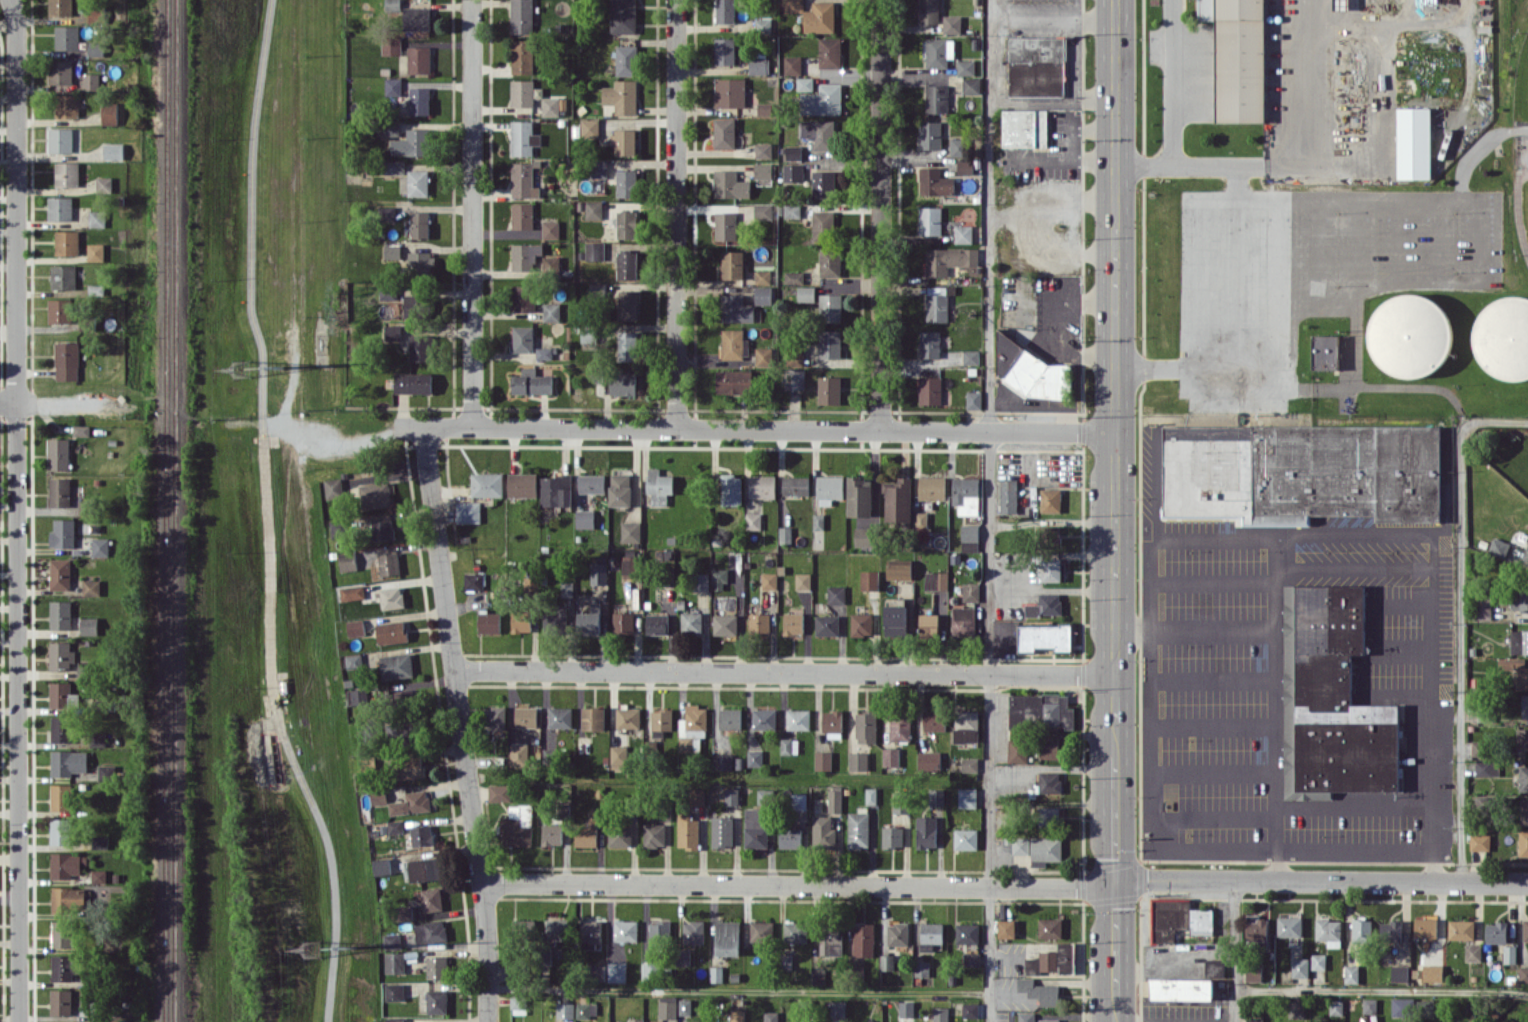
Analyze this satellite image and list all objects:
building: (1341, 3)
building: (393, 5)
building: (794, 5)
building: (59, 7)
building: (725, 11)
building: (929, 11)
building: (522, 16)
building: (623, 16)
building: (820, 17)
building: (417, 18)
road: (1053, 22)
building: (952, 23)
building: (66, 37)
building: (391, 45)
building: (95, 48)
building: (725, 51)
building: (939, 51)
building: (830, 52)
building: (522, 56)
building: (1238, 58)
building: (419, 59)
building: (627, 60)
building: (759, 65)
building: (792, 65)
building: (1036, 66)
building: (966, 67)
building: (59, 71)
building: (90, 81)
building: (805, 83)
park: (1521, 83)
road: (1174, 84)
building: (971, 85)
building: (393, 86)
building: (524, 92)
building: (730, 92)
building: (621, 96)
building: (937, 98)
building: (420, 100)
building: (823, 100)
road: (1296, 104)
building: (66, 106)
building: (550, 106)
building: (765, 108)
building: (108, 113)
building: (390, 127)
building: (590, 127)
building: (1025, 128)
park: (1512, 132)
building: (725, 133)
building: (819, 133)
building: (930, 135)
building: (523, 138)
building: (59, 139)
building: (625, 141)
building: (1414, 142)
building: (411, 143)
building: (958, 146)
building: (763, 150)
building: (113, 151)
building: (794, 152)
building: (394, 167)
building: (598, 168)
building: (763, 170)
building: (793, 172)
building: (66, 174)
building: (523, 180)
building: (414, 182)
building: (935, 182)
building: (103, 183)
building: (627, 183)
building: (730, 184)
building: (822, 184)
park: (1521, 204)
building: (59, 208)
building: (594, 209)
building: (763, 210)
building: (789, 210)
building: (387, 213)
road: (471, 213)
road: (675, 214)
road: (880, 214)
building: (522, 215)
building: (96, 218)
building: (930, 220)
building: (420, 224)
building: (627, 224)
building: (725, 225)
building: (824, 225)
building: (551, 229)
building: (963, 233)
building: (66, 242)
building: (594, 250)
building: (94, 251)
building: (392, 251)
building: (525, 255)
building: (949, 259)
building: (830, 261)
building: (421, 263)
building: (732, 264)
building: (627, 265)
road: (1236, 265)
parking lot: (1309, 274)
building: (62, 276)
building: (763, 276)
building: (794, 277)
park: (1351, 283)
building: (387, 291)
building: (806, 293)
building: (763, 294)
building: (522, 297)
building: (938, 302)
building: (627, 304)
building: (413, 305)
building: (830, 307)
building: (736, 308)
building: (59, 310)
building: (551, 312)
road: (1048, 327)
building: (392, 332)
building: (1410, 335)
building: (1503, 337)
building: (523, 338)
building: (830, 340)
building: (929, 343)
building: (734, 344)
building: (627, 345)
building: (419, 347)
building: (1325, 351)
building: (544, 352)
building: (763, 355)
building: (971, 357)
building: (65, 361)
power tower: (241, 366)
power tower: (278, 366)
building: (1031, 370)
building: (795, 379)
building: (734, 381)
building: (412, 382)
building: (531, 382)
building: (622, 384)
building: (829, 389)
building: (929, 390)
building: (973, 399)
road: (8, 400)
road: (60, 403)
road: (753, 428)
building: (80, 430)
building: (58, 454)
building: (1307, 472)
building: (591, 483)
building: (487, 484)
building: (522, 484)
building: (796, 485)
building: (658, 486)
building: (762, 486)
building: (333, 487)
building: (932, 487)
building: (829, 488)
building: (620, 489)
building: (731, 489)
building: (556, 490)
building: (59, 491)
building: (373, 495)
building: (966, 495)
building: (1009, 495)
building: (859, 497)
building: (1051, 499)
building: (898, 501)
building: (83, 505)
road: (16, 510)
railway: (175, 510)
road: (1114, 510)
railway: (165, 511)
road: (991, 511)
building: (467, 512)
road: (265, 515)
building: (584, 518)
building: (921, 519)
building: (753, 520)
building: (818, 521)
building: (382, 527)
building: (337, 528)
building: (630, 531)
building: (1050, 532)
road: (1401, 532)
building: (62, 533)
building: (785, 534)
building: (866, 536)
building: (99, 546)
building: (1526, 554)
building: (346, 560)
building: (388, 563)
building: (631, 566)
building: (1052, 570)
building: (899, 571)
building: (598, 573)
building: (59, 574)
building: (719, 579)
building: (769, 580)
building: (869, 580)
building: (936, 580)
building: (473, 581)
building: (701, 581)
building: (803, 581)
building: (90, 587)
building: (567, 588)
road: (1052, 589)
building: (970, 591)
building: (351, 592)
building: (836, 594)
building: (391, 597)
building: (1520, 600)
building: (1045, 605)
building: (1484, 607)
building: (59, 614)
road: (1459, 619)
building: (554, 620)
building: (590, 620)
building: (520, 621)
building: (963, 621)
building: (488, 622)
building: (623, 622)
building: (691, 622)
building: (759, 622)
building: (656, 623)
building: (793, 623)
building: (725, 624)
building: (861, 624)
building: (88, 625)
building: (827, 625)
building: (929, 625)
building: (354, 627)
building: (391, 631)
building: (1044, 636)
building: (1519, 641)
building: (60, 656)
building: (357, 660)
building: (396, 665)
building: (1516, 668)
road: (783, 671)
road: (1272, 691)
building: (62, 695)
building: (356, 696)
building: (1331, 699)
building: (1524, 707)
building: (1039, 709)
building: (525, 716)
building: (494, 717)
building: (559, 717)
building: (627, 717)
building: (593, 718)
building: (729, 718)
building: (764, 718)
building: (798, 719)
building: (934, 720)
building: (661, 721)
road: (460, 723)
building: (832, 724)
building: (900, 725)
building: (691, 726)
building: (866, 726)
building: (966, 726)
building: (61, 729)
building: (97, 738)
building: (1522, 738)
building: (789, 745)
building: (1050, 748)
building: (1479, 748)
building: (1017, 751)
building: (519, 754)
building: (617, 756)
building: (890, 756)
building: (754, 757)
building: (822, 760)
building: (858, 760)
building: (929, 760)
building: (67, 762)
building: (722, 762)
building: (969, 764)
building: (410, 767)
building: (1487, 768)
building: (104, 772)
building: (1523, 778)
building: (1049, 782)
building: (498, 792)
building: (870, 795)
building: (377, 796)
building: (697, 796)
building: (731, 796)
building: (60, 797)
building: (936, 797)
building: (967, 797)
building: (799, 801)
building: (834, 801)
building: (901, 801)
building: (410, 803)
building: (1524, 811)
building: (1049, 816)
building: (394, 826)
building: (516, 826)
building: (754, 828)
building: (687, 830)
building: (858, 830)
building: (60, 831)
building: (587, 831)
building: (721, 831)
building: (823, 832)
building: (926, 832)
building: (551, 834)
building: (653, 834)
building: (421, 835)
building: (619, 835)
building: (790, 837)
building: (892, 837)
building: (965, 839)
building: (99, 841)
building: (1480, 841)
building: (1523, 842)
building: (1020, 845)
road: (1181, 848)
building: (1045, 850)
building: (66, 864)
road: (1273, 864)
building: (381, 866)
building: (423, 869)
traffic signals: (1114, 883)
road: (1005, 886)
building: (69, 899)
building: (431, 899)
building: (404, 912)
building: (1178, 919)
building: (523, 926)
building: (1289, 926)
building: (1050, 927)
building: (1256, 927)
building: (1425, 927)
building: (1006, 928)
building: (557, 929)
building: (1328, 929)
building: (1362, 929)
building: (1461, 929)
building: (1525, 929)
building: (625, 930)
building: (659, 930)
building: (761, 930)
building: (1390, 930)
building: (430, 931)
building: (795, 931)
building: (693, 932)
building: (1496, 932)
building: (591, 933)
building: (897, 933)
building: (967, 933)
building: (62, 934)
building: (930, 935)
building: (727, 938)
building: (863, 938)
building: (391, 941)
building: (830, 941)
power tower: (349, 944)
power tower: (315, 946)
road: (1234, 951)
building: (1473, 952)
building: (1509, 954)
building: (682, 956)
building: (971, 959)
building: (1053, 960)
building: (886, 961)
building: (1318, 961)
building: (394, 962)
building: (63, 967)
building: (436, 967)
building: (1300, 967)
building: (921, 968)
building: (649, 970)
building: (616, 971)
building: (599, 972)
building: (1432, 972)
building: (1351, 973)
building: (1399, 973)
building: (1523, 974)
building: (817, 976)
building: (1182, 988)
road: (739, 990)
road: (1381, 990)
building: (393, 991)
building: (1041, 991)
building: (59, 1001)
building: (436, 1001)
building: (518, 1004)
building: (1369, 1005)
building: (684, 1006)
building: (1402, 1006)
building: (1336, 1007)
building: (1426, 1007)
building: (837, 1008)
building: (906, 1008)
building: (667, 1009)
building: (1296, 1009)
building: (564, 1010)
building: (586, 1010)
building: (970, 1010)
building: (940, 1014)
building: (737, 1015)
building: (770, 1016)
building: (1026, 1016)
building: (393, 1019)
building: (635, 1019)
building: (1254, 1019)
building: (1050, 1020)
building: (690, 1021)

